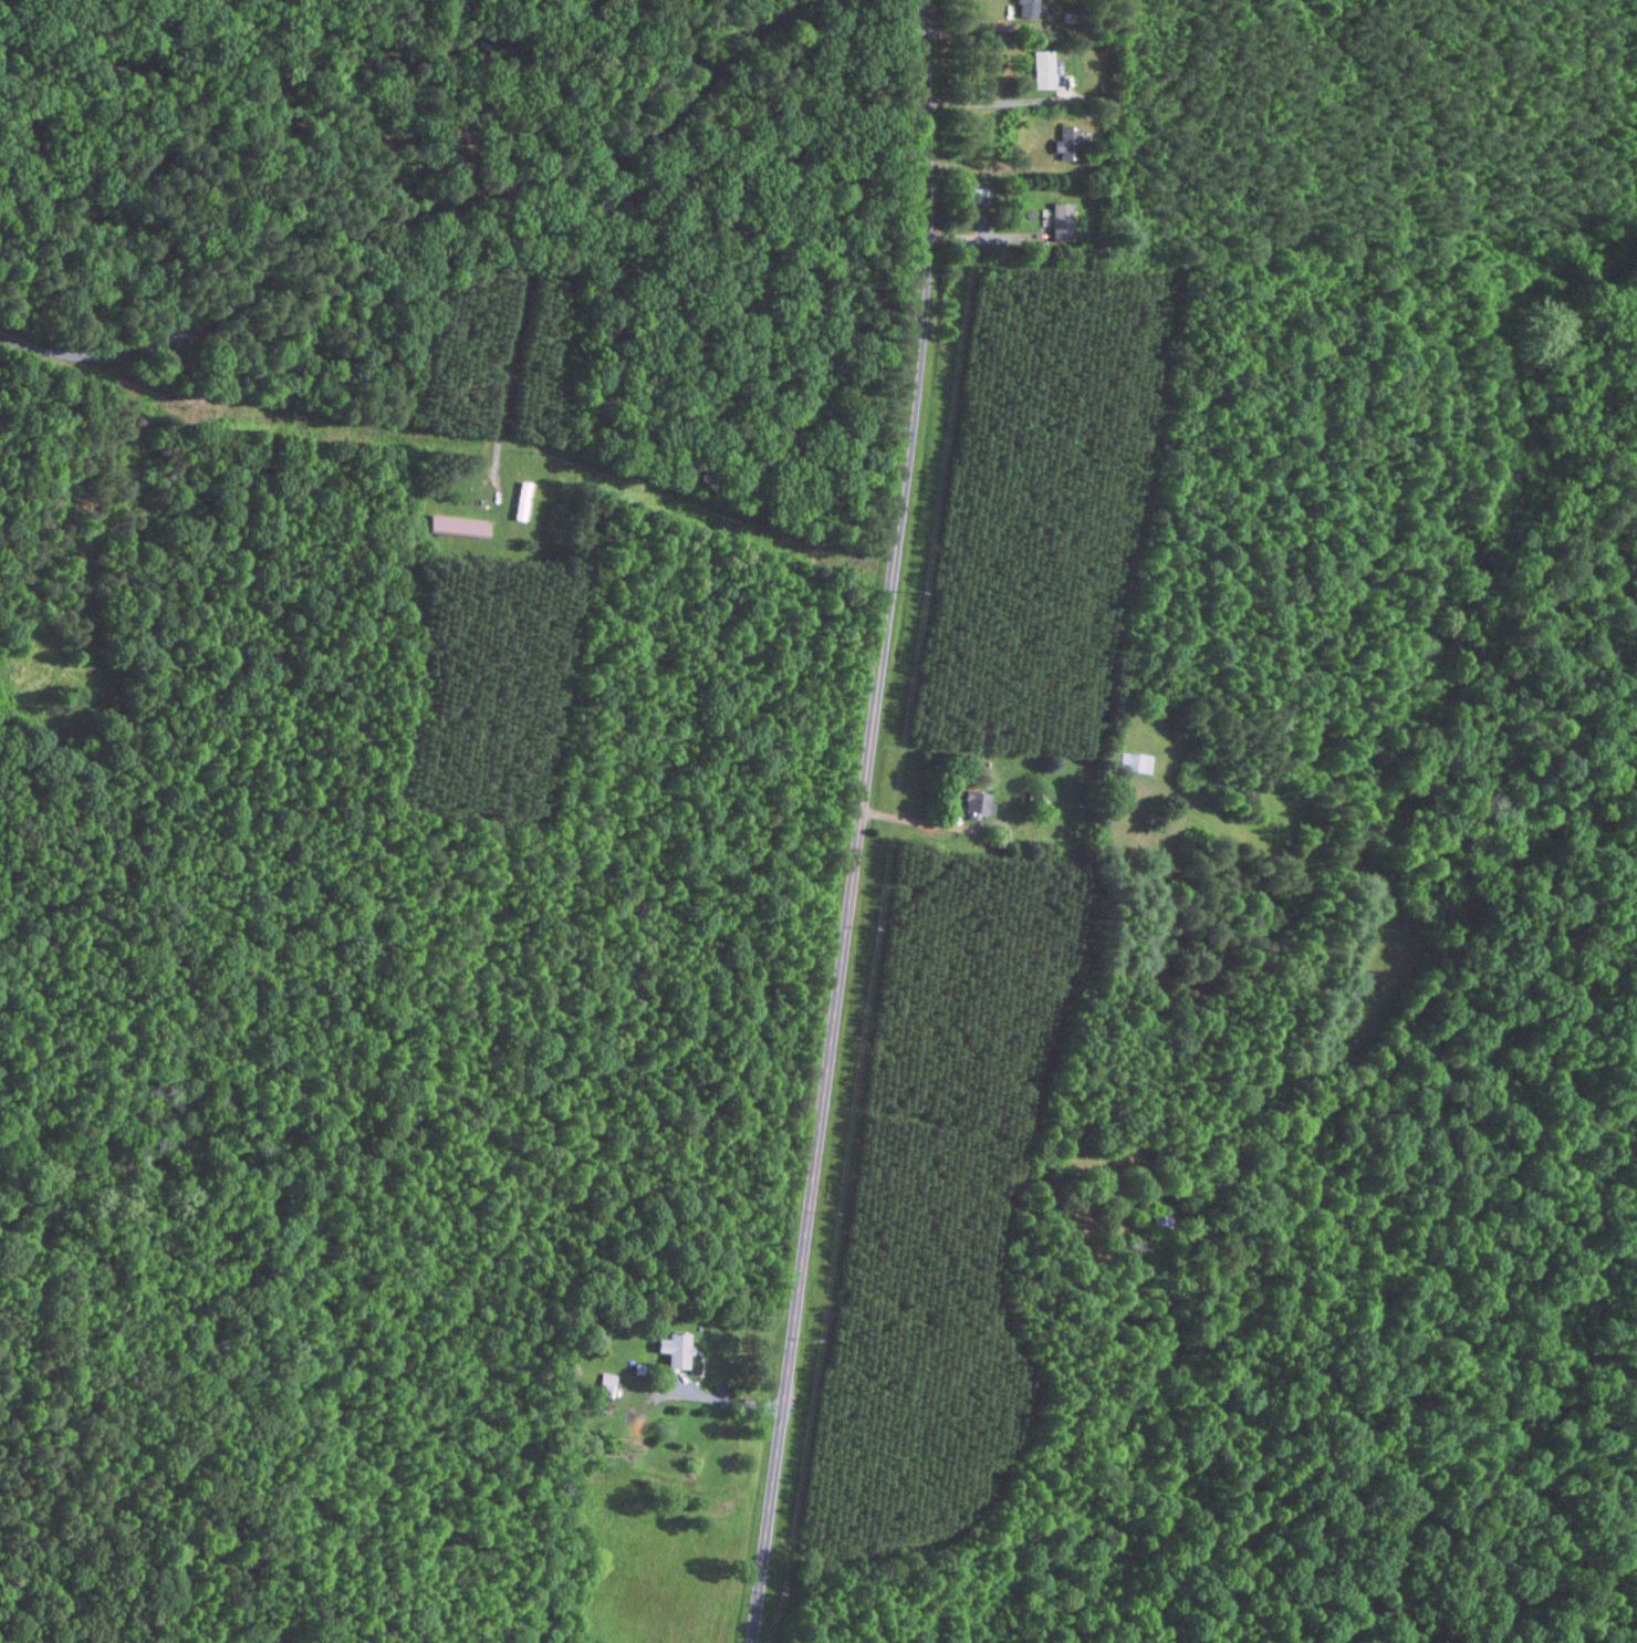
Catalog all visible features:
building: (1025, 8)
building: (1040, 69)
road: (999, 102)
building: (1065, 142)
road: (413, 211)
building: (1060, 220)
road: (983, 235)
road: (521, 288)
building: (455, 523)
road: (859, 822)
road: (962, 828)
road: (729, 1400)

